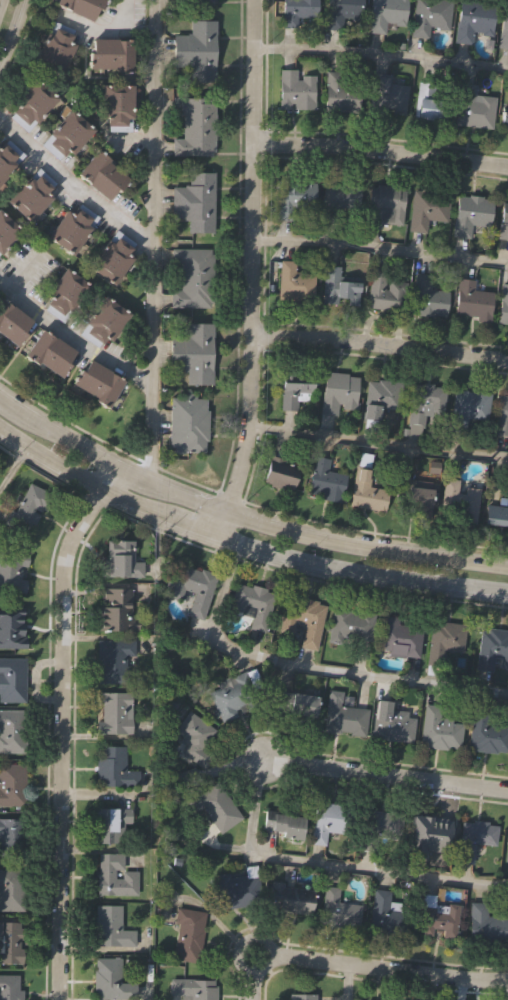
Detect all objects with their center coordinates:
building: (195, 1)
building: (79, 7)
building: (296, 12)
building: (342, 12)
road: (125, 15)
building: (386, 15)
building: (430, 16)
building: (473, 20)
road: (12, 28)
building: (503, 29)
road: (104, 31)
building: (57, 46)
building: (197, 49)
building: (113, 53)
road: (381, 53)
building: (296, 90)
building: (341, 92)
building: (387, 97)
building: (34, 102)
building: (428, 103)
building: (119, 105)
building: (473, 108)
building: (503, 116)
building: (196, 125)
building: (68, 133)
road: (132, 141)
road: (380, 147)
building: (9, 157)
building: (104, 173)
road: (74, 189)
building: (34, 193)
building: (294, 199)
building: (197, 200)
building: (338, 200)
building: (385, 204)
building: (427, 208)
building: (471, 214)
building: (503, 222)
building: (74, 226)
building: (7, 229)
road: (153, 238)
road: (380, 247)
building: (115, 255)
road: (253, 269)
road: (20, 271)
building: (195, 276)
building: (294, 284)
building: (337, 288)
building: (67, 292)
building: (385, 293)
building: (426, 297)
building: (470, 301)
building: (502, 305)
building: (14, 320)
building: (106, 321)
road: (73, 337)
road: (380, 342)
building: (52, 352)
building: (196, 352)
building: (100, 381)
building: (337, 393)
building: (292, 396)
building: (380, 399)
building: (423, 403)
building: (468, 408)
building: (501, 417)
building: (188, 422)
road: (378, 442)
road: (13, 467)
building: (280, 472)
building: (325, 482)
building: (365, 493)
building: (414, 497)
building: (461, 502)
building: (27, 509)
road: (241, 512)
building: (495, 516)
road: (242, 543)
building: (121, 560)
building: (12, 571)
building: (192, 587)
building: (253, 605)
building: (113, 609)
building: (305, 619)
building: (11, 626)
building: (350, 626)
building: (399, 637)
building: (446, 645)
building: (493, 650)
building: (113, 661)
road: (303, 667)
building: (12, 681)
building: (232, 695)
building: (293, 704)
building: (114, 713)
building: (344, 719)
road: (60, 722)
building: (391, 723)
building: (13, 732)
building: (441, 733)
building: (487, 735)
building: (193, 740)
building: (114, 768)
road: (385, 775)
building: (12, 786)
building: (218, 809)
building: (331, 822)
building: (283, 825)
building: (112, 826)
building: (379, 828)
building: (428, 834)
building: (9, 837)
building: (473, 838)
building: (506, 847)
road: (330, 864)
building: (114, 876)
building: (12, 891)
building: (238, 891)
building: (290, 899)
building: (338, 910)
building: (384, 914)
building: (438, 920)
building: (484, 924)
building: (111, 928)
building: (188, 936)
building: (10, 943)
road: (387, 969)
building: (110, 979)
road: (255, 980)
road: (346, 982)
building: (10, 986)
building: (194, 987)
building: (301, 995)

